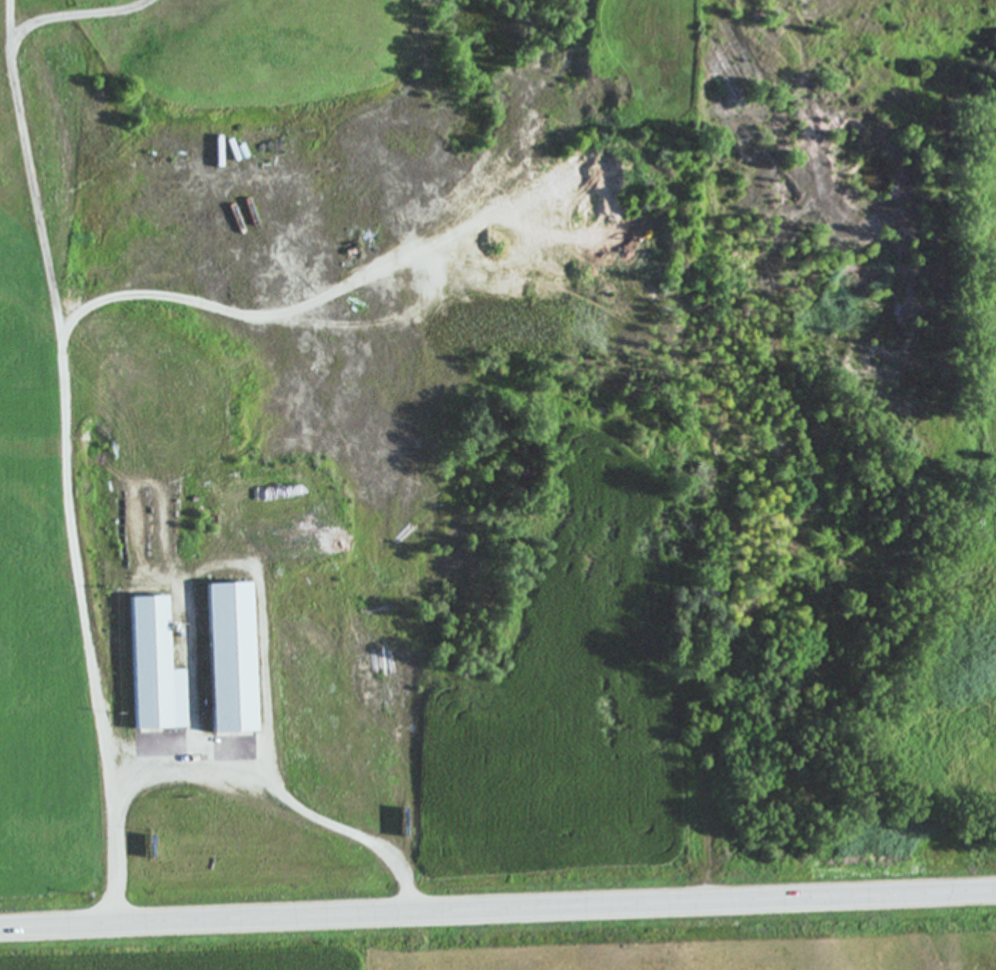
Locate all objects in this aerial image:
road: (68, 352)
building: (228, 658)
building: (149, 667)
road: (231, 782)
road: (497, 910)

